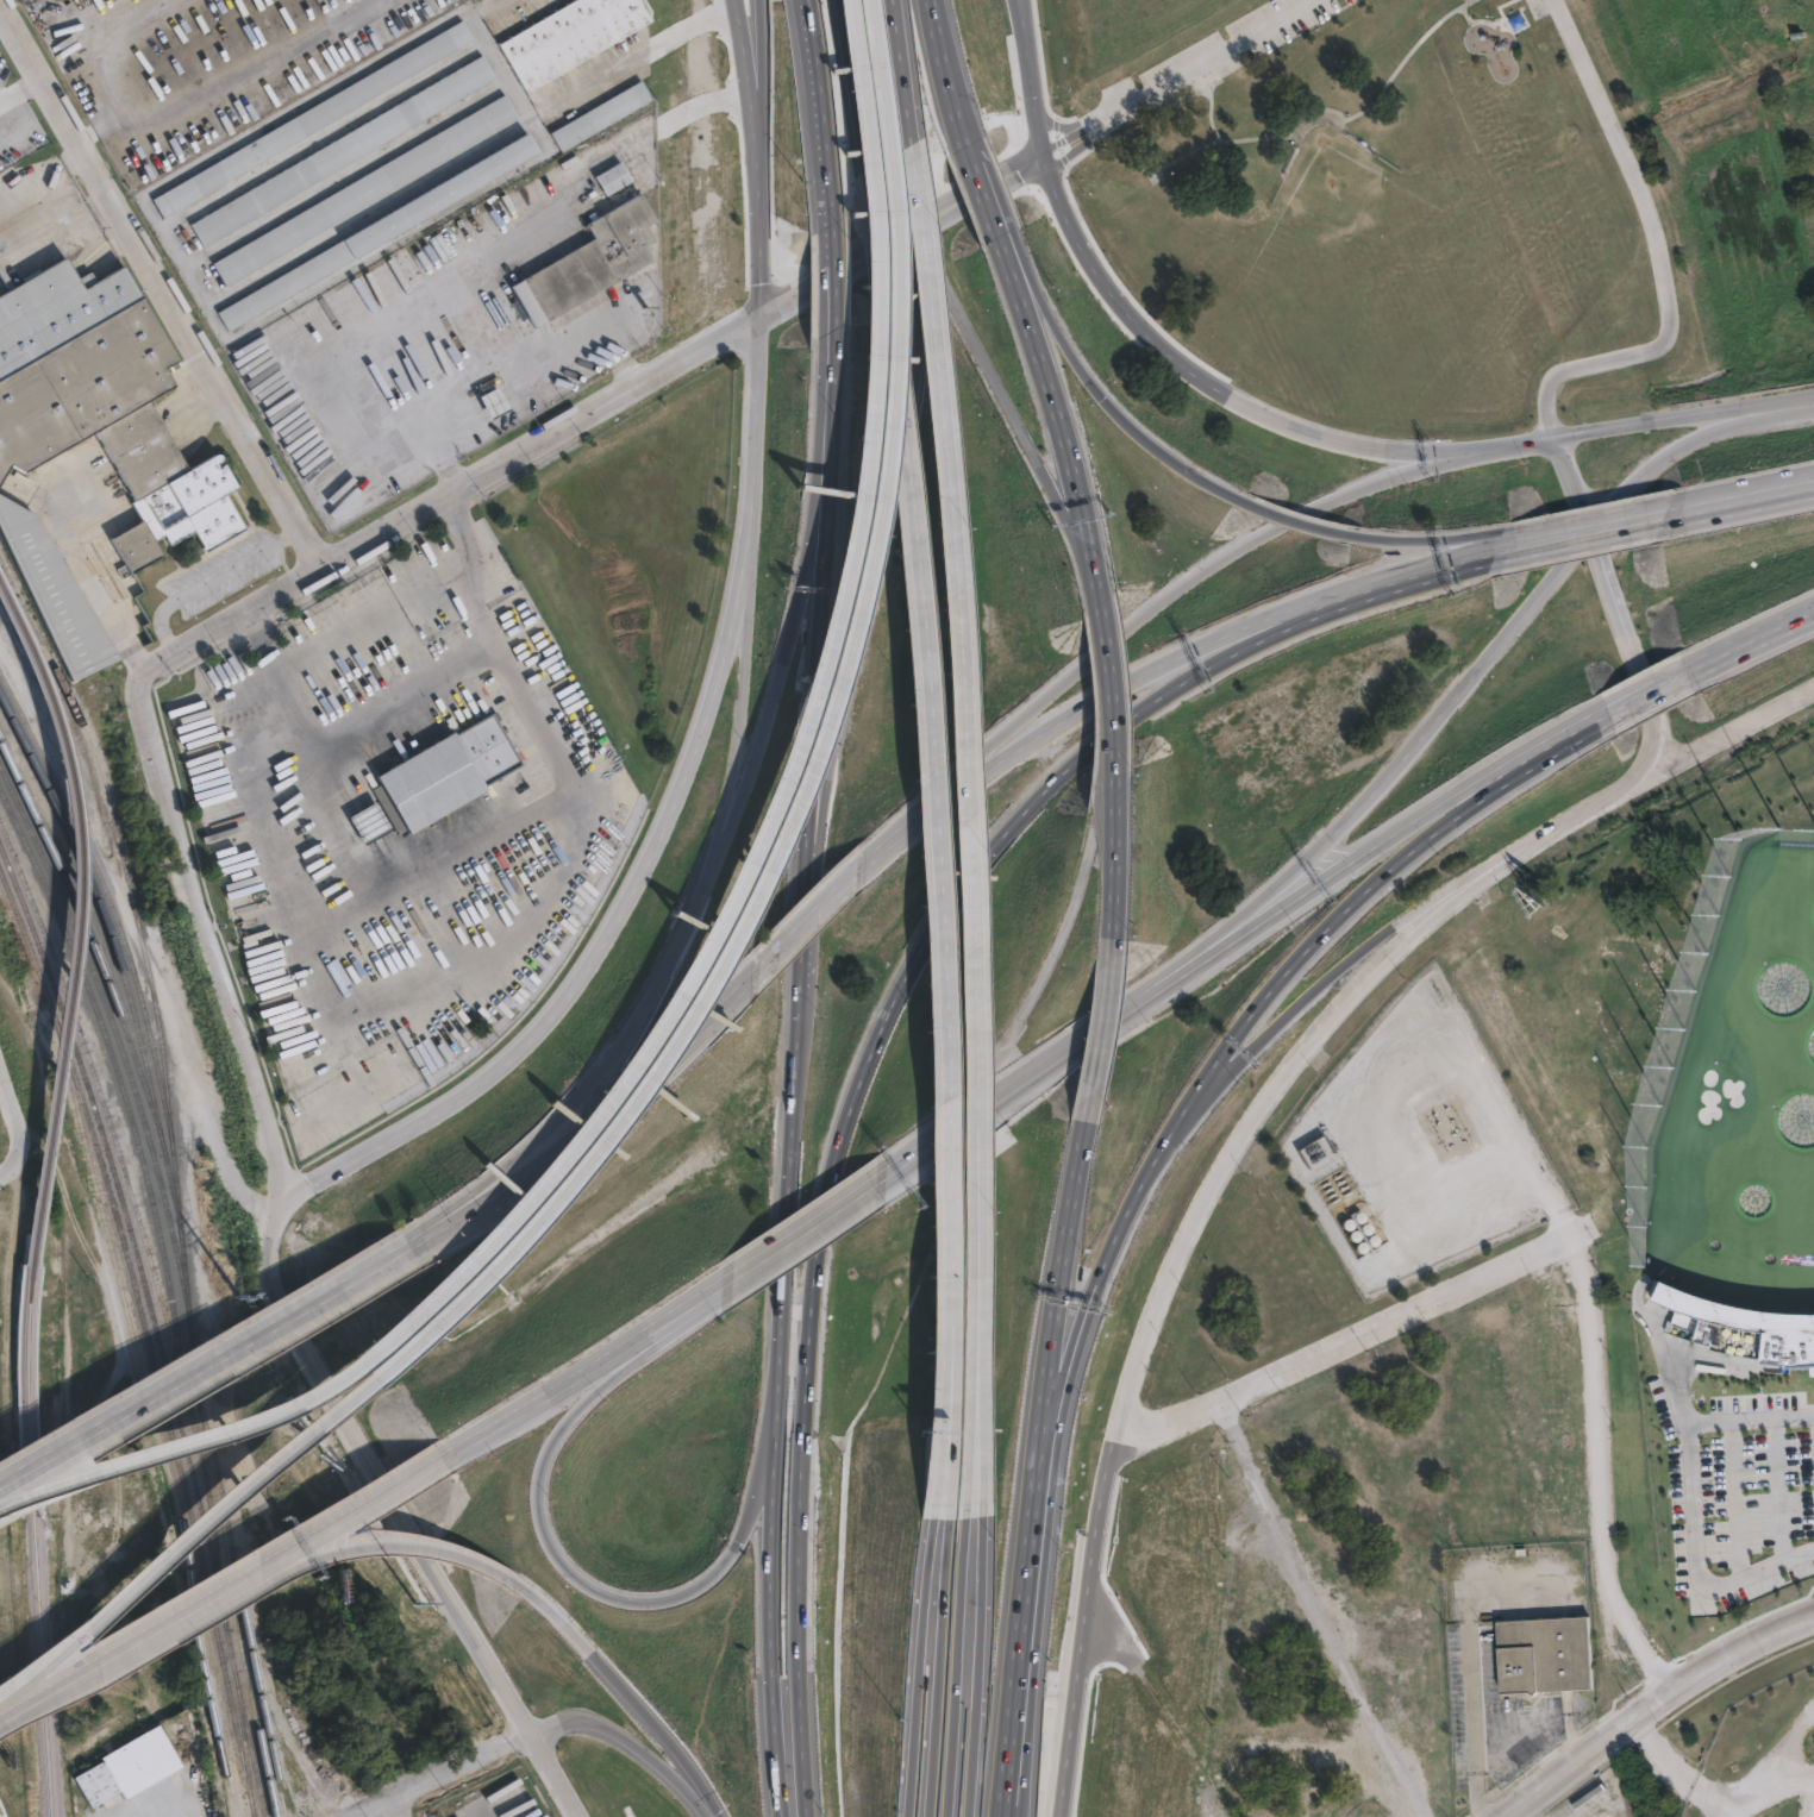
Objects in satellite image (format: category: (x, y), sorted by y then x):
parking lot: (1535, 7)
road: (1026, 25)
road: (1028, 25)
building: (575, 32)
road: (131, 46)
parking lot: (1230, 46)
road: (648, 51)
road: (874, 70)
road: (950, 70)
road: (894, 71)
road: (230, 75)
road: (903, 76)
road: (1170, 76)
road: (851, 84)
road: (20, 87)
building: (632, 96)
road: (759, 102)
road: (1038, 102)
road: (1209, 102)
road: (1364, 106)
road: (825, 107)
building: (318, 115)
building: (338, 152)
road: (972, 152)
building: (368, 189)
road: (969, 196)
road: (988, 199)
park: (1384, 219)
building: (383, 230)
building: (598, 252)
road: (1656, 253)
road: (834, 274)
road: (162, 282)
road: (826, 282)
road: (381, 320)
road: (1166, 345)
road: (540, 352)
road: (1094, 386)
road: (1047, 387)
road: (1001, 388)
building: (495, 401)
road: (832, 414)
road: (1683, 415)
road: (1713, 431)
road: (1501, 445)
road: (1413, 446)
building: (148, 463)
road: (1570, 483)
road: (446, 494)
road: (1739, 502)
road: (1606, 507)
road: (1647, 519)
road: (1574, 526)
road: (1322, 527)
road: (1570, 533)
road: (1466, 537)
road: (1444, 565)
road: (1095, 566)
road: (209, 578)
road: (1537, 591)
road: (1609, 591)
road: (1159, 594)
road: (858, 615)
road: (1251, 622)
road: (1751, 639)
road: (1255, 643)
road: (1107, 673)
road: (743, 676)
road: (782, 678)
road: (713, 683)
road: (1111, 685)
road: (406, 694)
road: (1646, 697)
road: (292, 700)
road: (1114, 729)
road: (1707, 740)
road: (811, 746)
road: (1408, 747)
road: (1005, 754)
building: (446, 776)
road: (354, 796)
road: (348, 801)
road: (1580, 810)
road: (319, 815)
road: (374, 819)
building: (371, 822)
road: (770, 826)
road: (359, 828)
road: (790, 828)
road: (965, 828)
road: (931, 835)
road: (1382, 838)
road: (888, 841)
road: (386, 846)
road: (388, 859)
road: (433, 865)
road: (1114, 867)
road: (1374, 882)
railway: (90, 902)
road: (1249, 906)
road: (807, 916)
road: (214, 935)
road: (509, 938)
railway: (99, 947)
railway: (71, 990)
railway: (151, 995)
road: (1311, 1005)
road: (708, 1013)
railway: (104, 1015)
road: (1094, 1038)
railway: (108, 1059)
road: (600, 1066)
road: (792, 1076)
road: (1026, 1078)
railway: (106, 1084)
power tower: (73, 1128)
road: (11, 1130)
road: (549, 1159)
road: (11, 1168)
railway: (133, 1210)
building: (13, 1214)
road: (809, 1226)
road: (820, 1243)
power tower: (224, 1248)
road: (784, 1272)
railway: (155, 1324)
road: (1093, 1326)
road: (1145, 1326)
building: (1741, 1329)
road: (1350, 1333)
road: (1053, 1336)
railway: (146, 1337)
road: (213, 1360)
road: (599, 1364)
park: (1510, 1366)
road: (173, 1439)
road: (376, 1466)
parking lot: (1735, 1492)
road: (382, 1502)
road: (1691, 1502)
road: (419, 1540)
road: (181, 1543)
road: (552, 1548)
railway: (239, 1599)
road: (772, 1603)
railway: (37, 1612)
road: (179, 1622)
building: (1546, 1655)
road: (915, 1660)
road: (940, 1660)
road: (957, 1660)
road: (975, 1661)
road: (1470, 1664)
road: (634, 1688)
road: (1026, 1694)
railway: (249, 1697)
road: (1657, 1708)
road: (25, 1711)
road: (636, 1738)
railway: (243, 1743)
railway: (290, 1759)
building: (127, 1767)
road: (555, 1772)
road: (443, 1775)
railway: (282, 1782)
building: (40, 1807)

